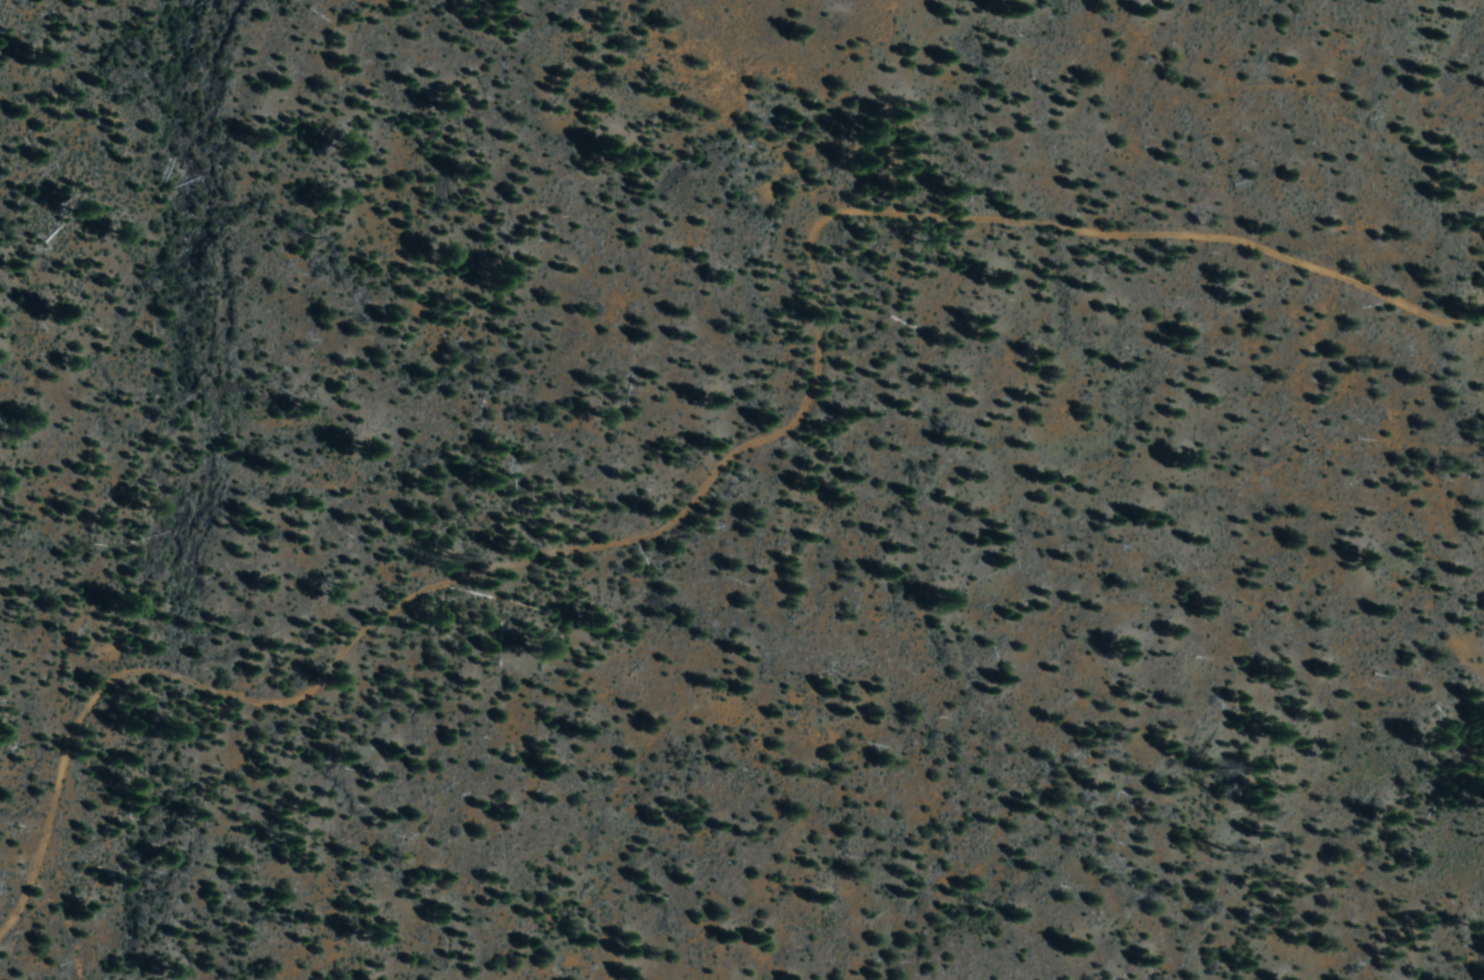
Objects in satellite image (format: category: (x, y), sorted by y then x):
road: (721, 472)

